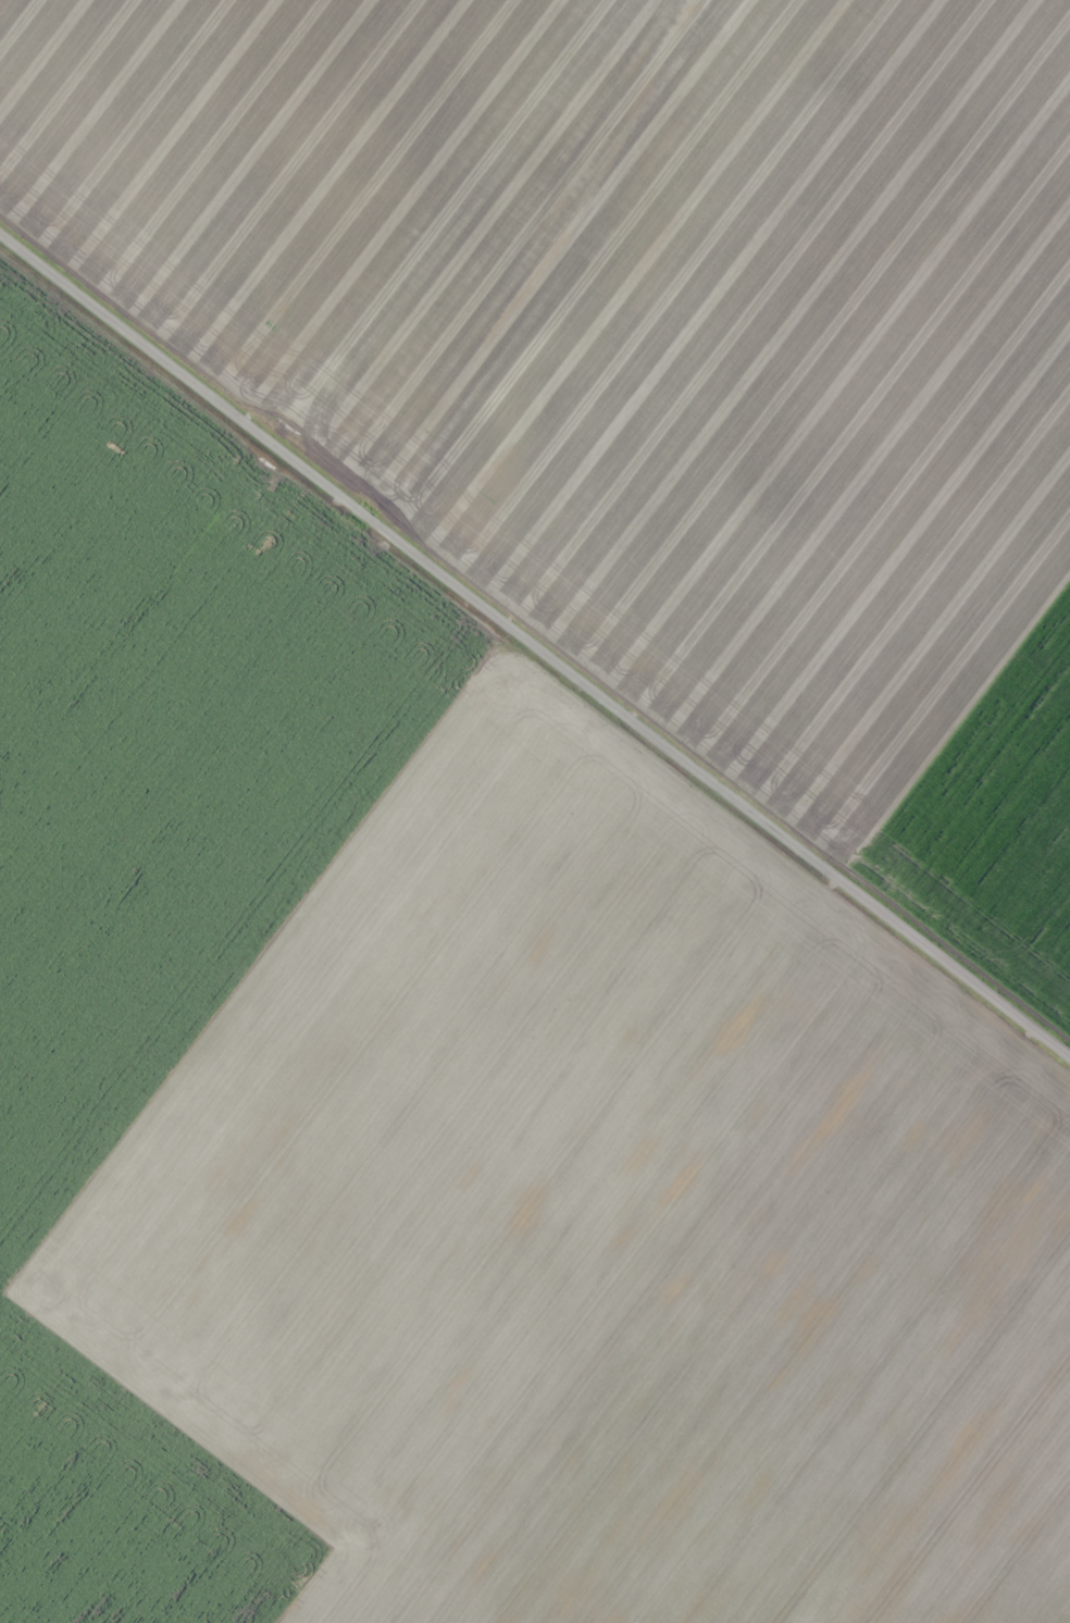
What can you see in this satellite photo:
road: (535, 657)

